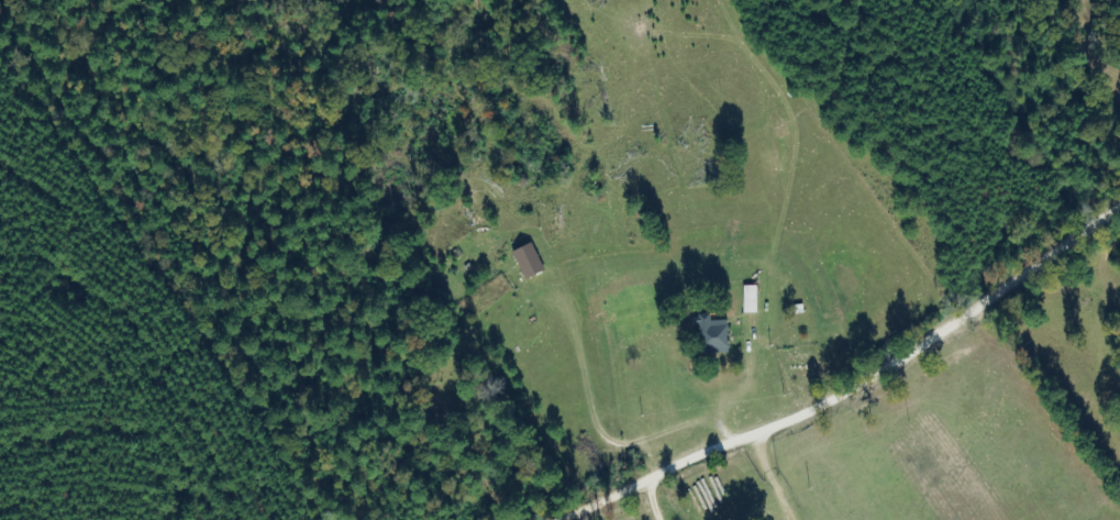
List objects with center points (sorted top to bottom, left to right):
building: (526, 262)
building: (711, 335)
road: (800, 373)
road: (24, 375)

